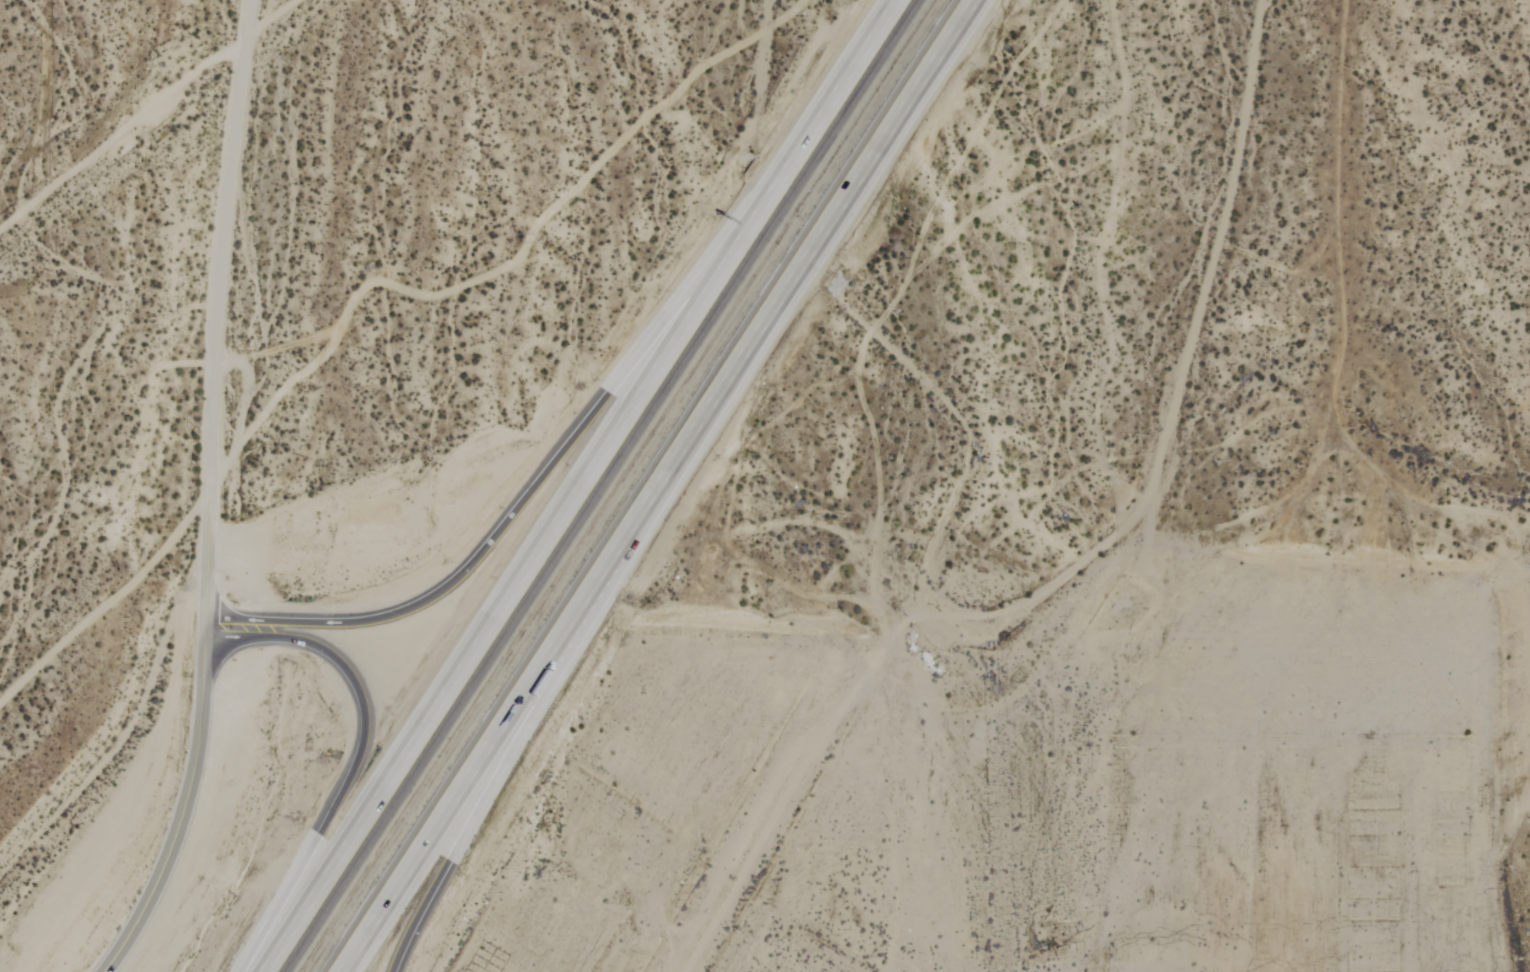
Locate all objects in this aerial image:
road: (832, 89)
power tower: (573, 176)
road: (801, 267)
road: (217, 308)
power tower: (309, 387)
road: (538, 484)
railway: (612, 485)
power tower: (94, 567)
road: (520, 575)
road: (593, 594)
road: (360, 758)
road: (187, 803)
road: (448, 812)
road: (476, 812)

